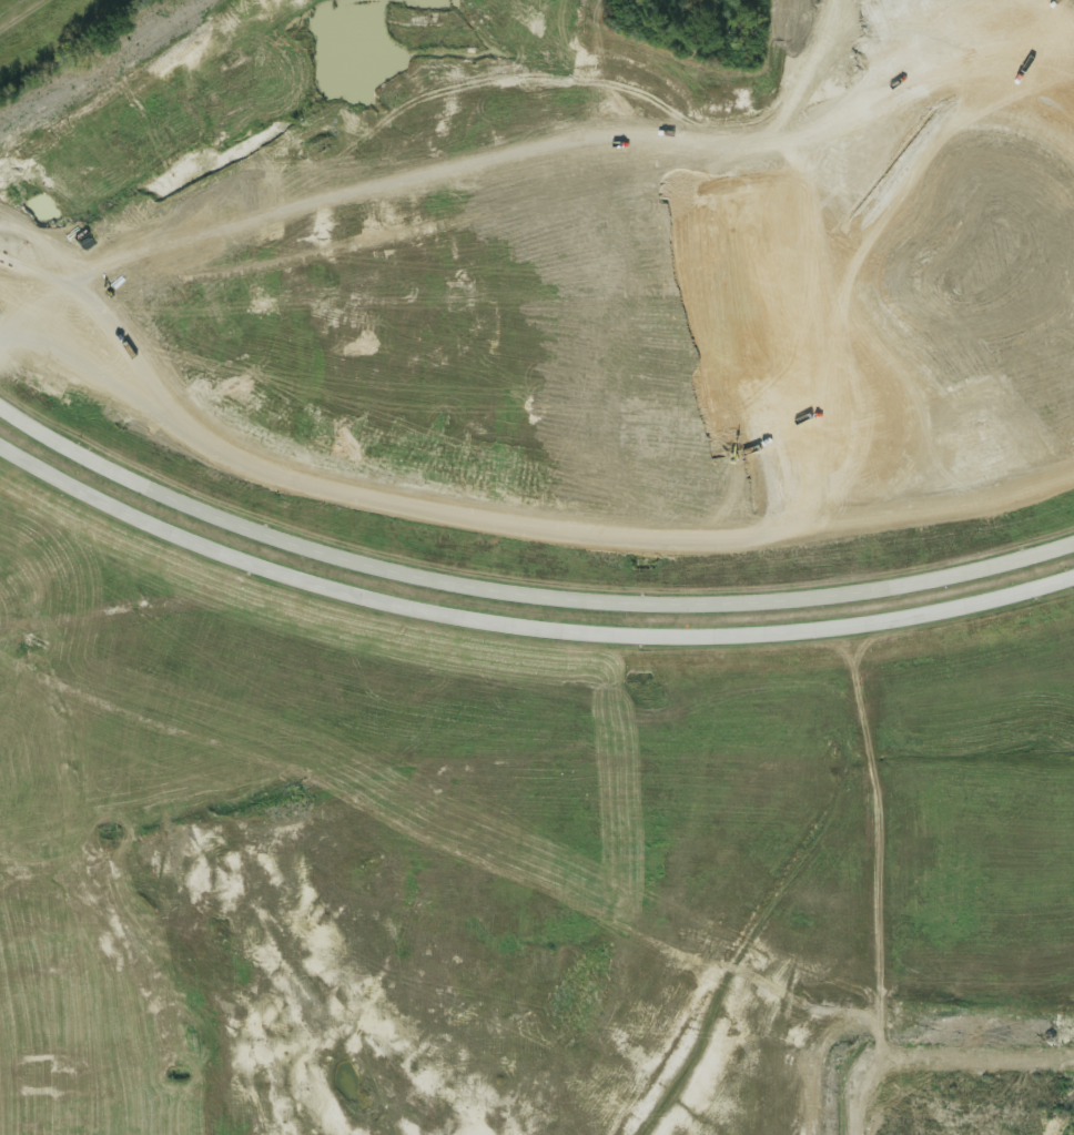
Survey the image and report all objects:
road: (523, 592)
road: (523, 625)

